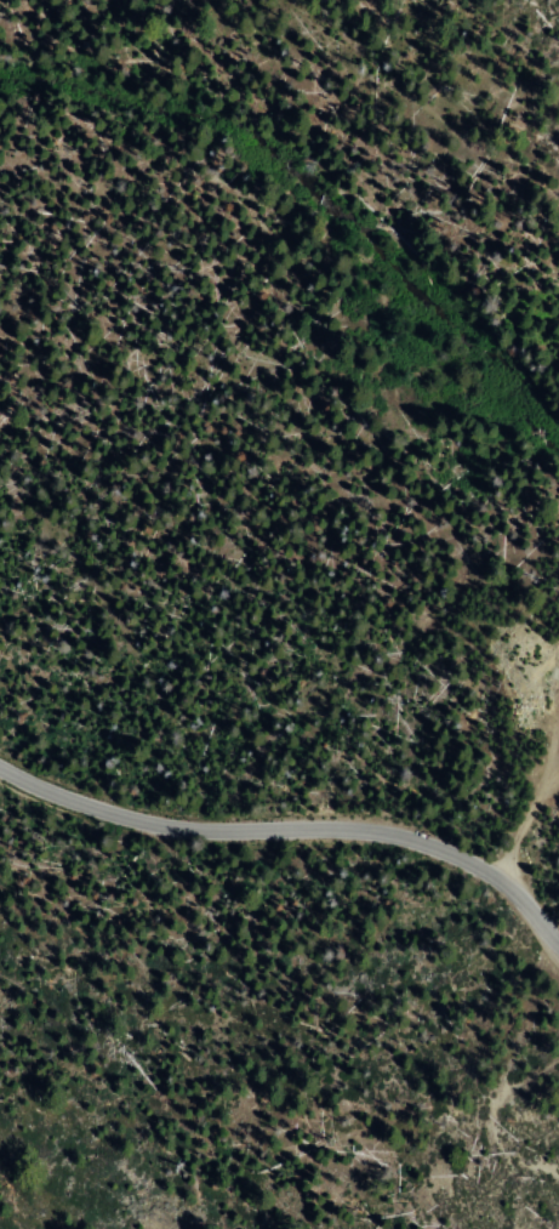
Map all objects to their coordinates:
road: (524, 818)
road: (290, 825)

